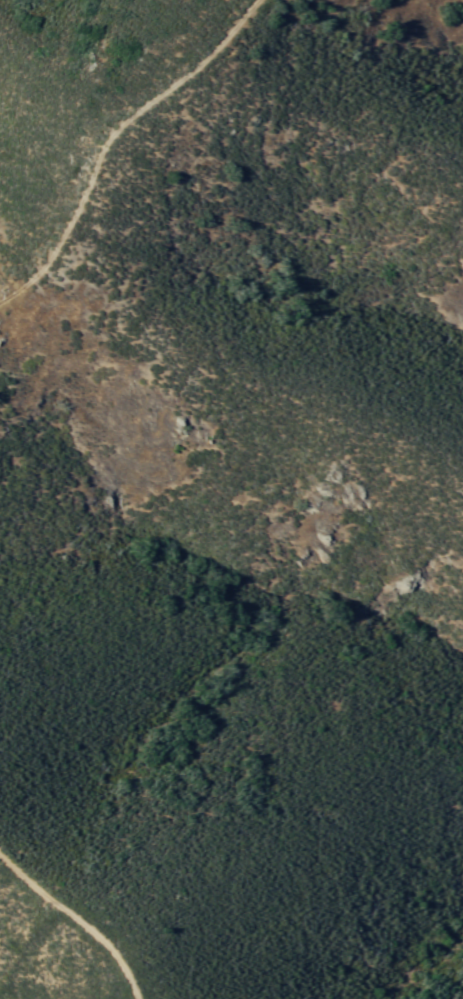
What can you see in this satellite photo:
road: (115, 144)
road: (77, 921)

